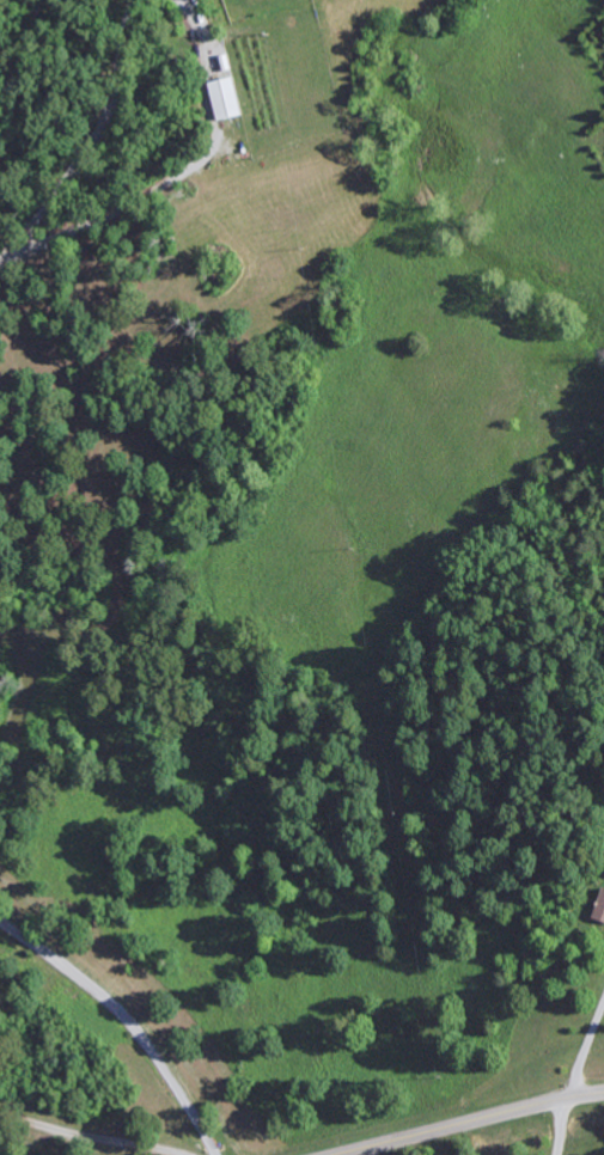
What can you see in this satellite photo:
building: (228, 99)
road: (93, 141)
building: (600, 911)
road: (128, 1020)
road: (471, 1120)
road: (94, 1135)

